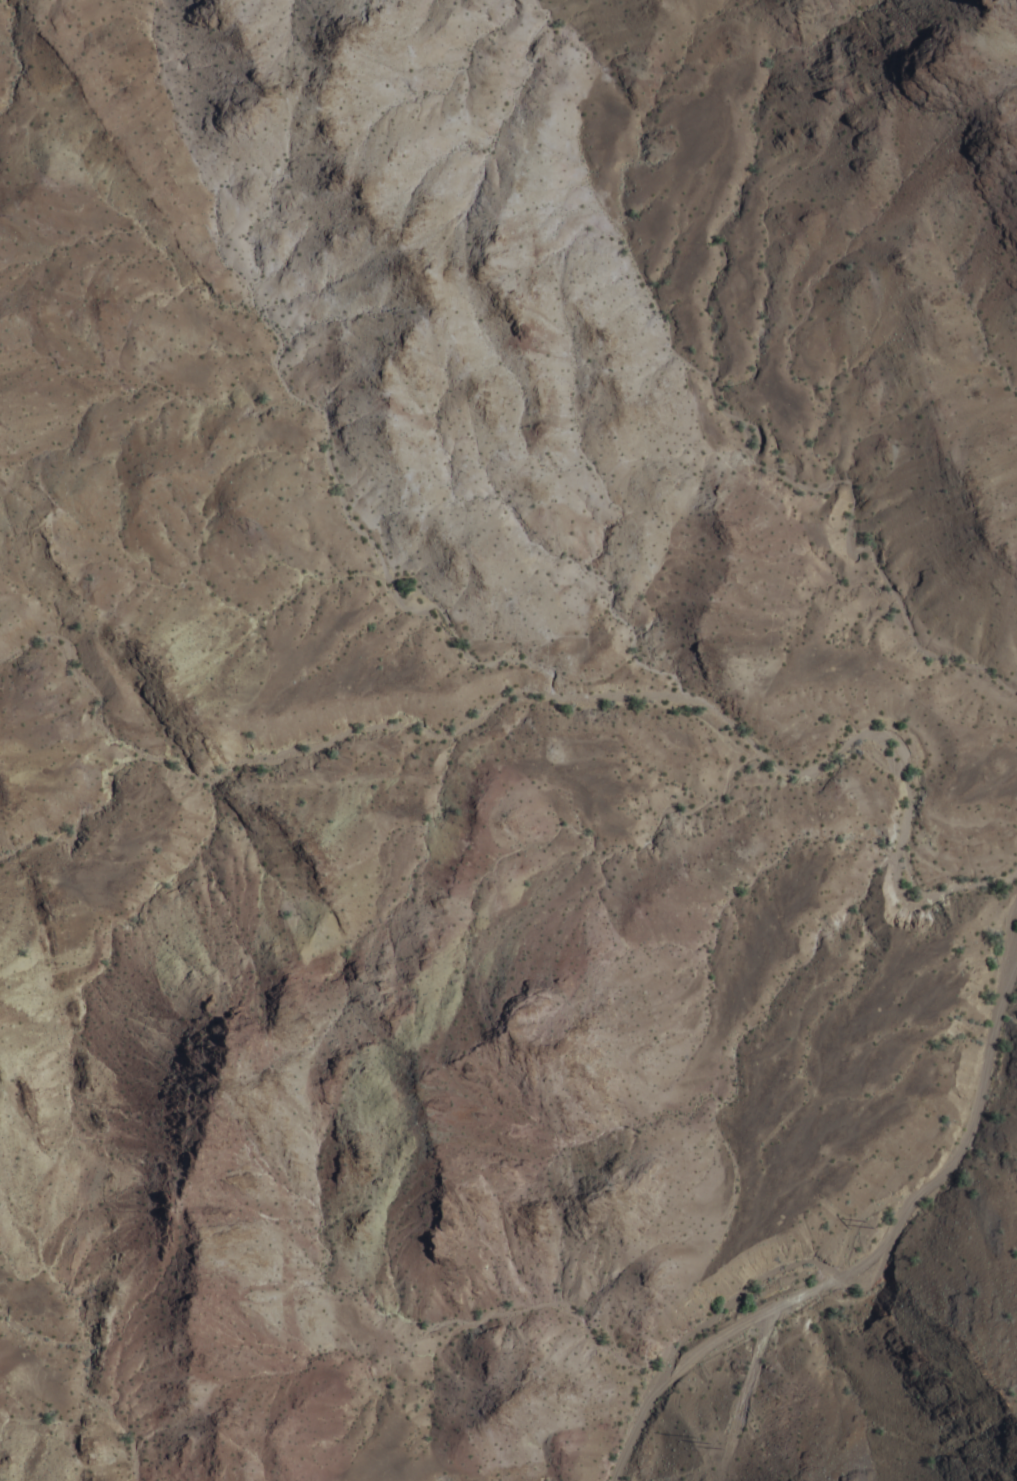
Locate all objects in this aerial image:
power tower: (867, 1224)
power tower: (709, 1445)

